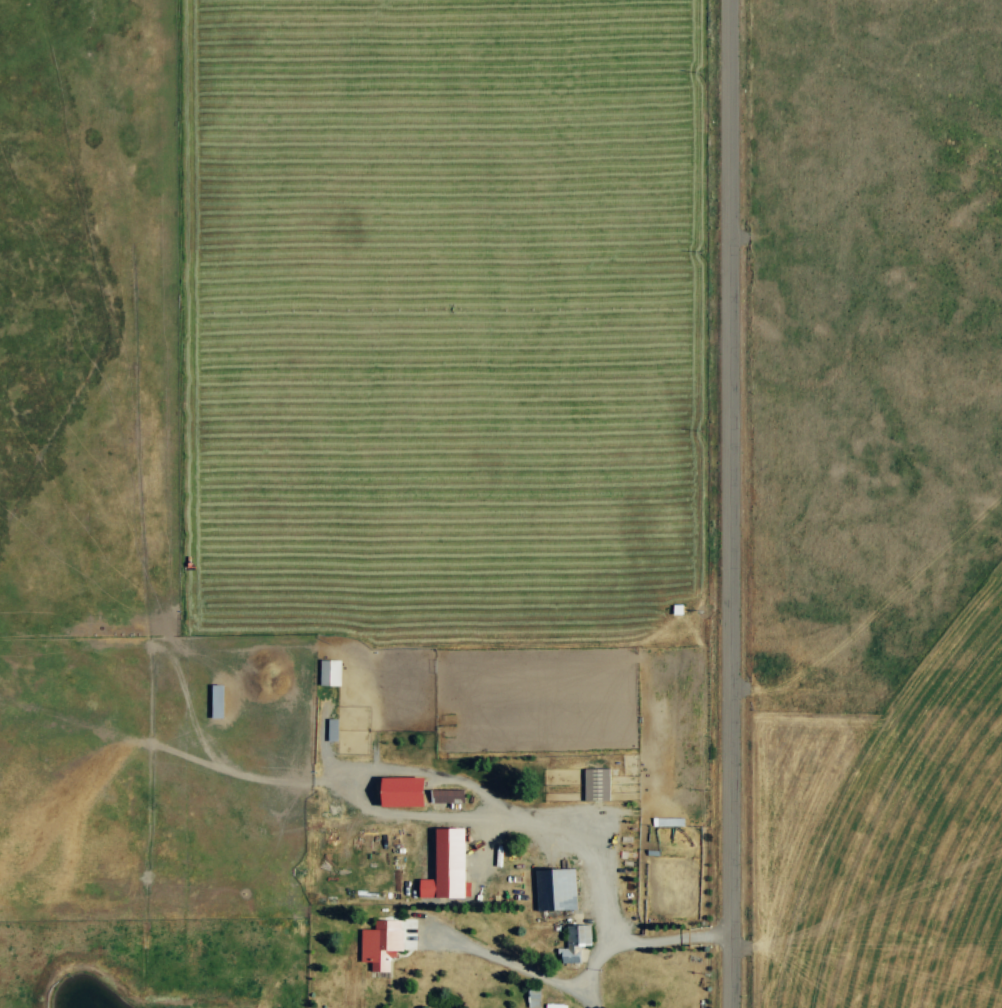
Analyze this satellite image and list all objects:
crop: (463, 469)
road: (730, 504)
building: (329, 672)
building: (216, 700)
building: (331, 728)
building: (595, 784)
building: (401, 790)
crop: (872, 841)
building: (446, 865)
building: (555, 888)
building: (574, 941)
building: (380, 943)

